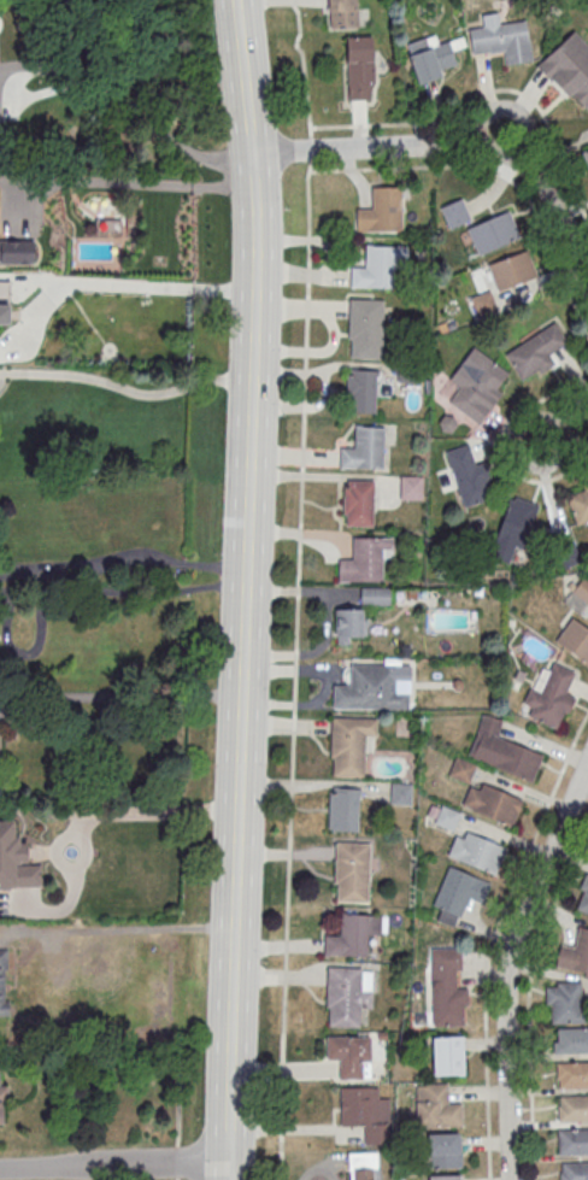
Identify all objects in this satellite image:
building: (342, 13)
building: (501, 39)
building: (431, 61)
road: (39, 65)
building: (359, 67)
building: (569, 67)
road: (242, 76)
road: (37, 93)
road: (486, 95)
road: (160, 134)
road: (453, 145)
building: (586, 157)
road: (498, 172)
road: (141, 183)
building: (381, 211)
building: (493, 231)
building: (16, 252)
building: (376, 268)
building: (511, 270)
road: (151, 287)
building: (483, 303)
building: (4, 313)
building: (366, 328)
building: (537, 352)
building: (475, 386)
road: (125, 388)
building: (360, 391)
road: (563, 432)
road: (501, 441)
building: (365, 450)
building: (468, 477)
building: (411, 487)
building: (358, 503)
building: (578, 506)
building: (512, 530)
building: (366, 559)
road: (298, 586)
road: (122, 591)
building: (583, 591)
building: (376, 595)
building: (349, 624)
building: (575, 640)
road: (241, 657)
building: (374, 687)
road: (120, 697)
building: (549, 697)
building: (351, 745)
building: (504, 750)
building: (460, 770)
building: (401, 793)
building: (492, 804)
building: (345, 809)
road: (142, 810)
building: (442, 817)
building: (475, 852)
building: (16, 861)
building: (352, 871)
building: (458, 893)
building: (582, 897)
building: (351, 937)
road: (494, 939)
building: (575, 953)
road: (510, 965)
building: (2, 981)
building: (446, 987)
road: (529, 996)
building: (343, 997)
building: (564, 1002)
building: (571, 1040)
building: (349, 1055)
building: (447, 1056)
building: (572, 1075)
building: (4, 1100)
building: (436, 1106)
building: (572, 1108)
building: (365, 1113)
building: (574, 1141)
road: (177, 1146)
building: (447, 1150)
road: (113, 1164)
building: (363, 1166)
building: (575, 1170)
road: (227, 1172)
building: (445, 1176)

